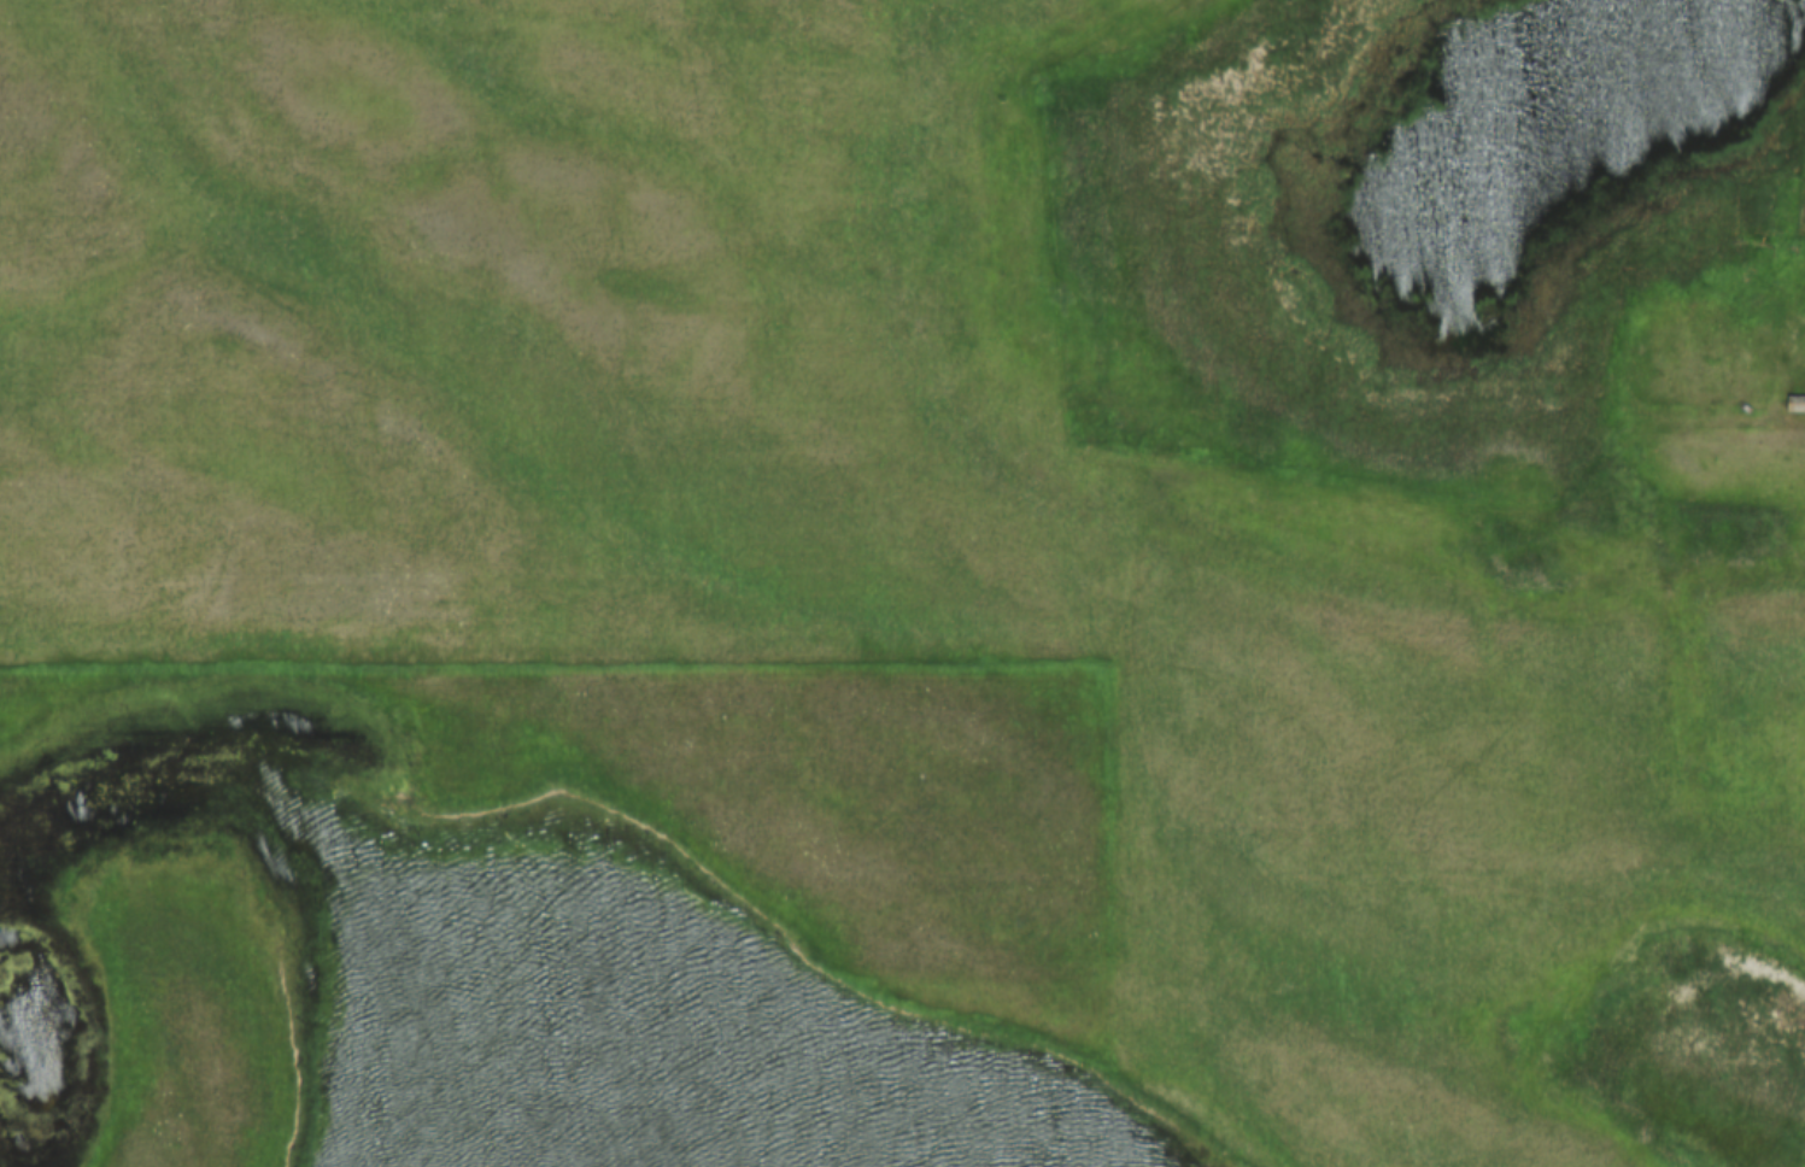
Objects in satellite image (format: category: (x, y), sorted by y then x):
building: (1794, 405)

